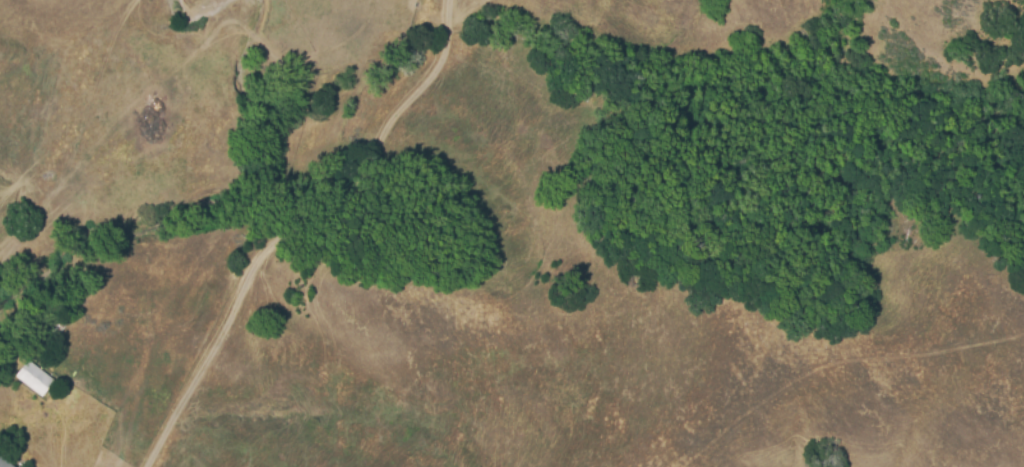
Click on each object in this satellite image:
road: (271, 225)
building: (3, 463)

